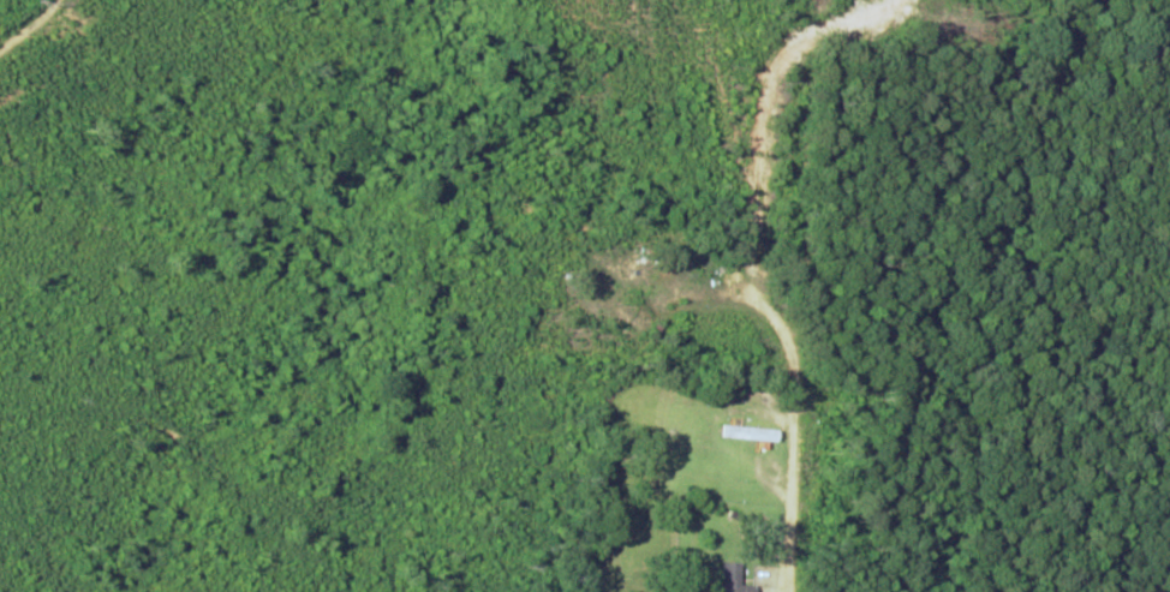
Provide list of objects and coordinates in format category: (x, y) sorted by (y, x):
road: (754, 256)
building: (753, 432)
building: (732, 580)

